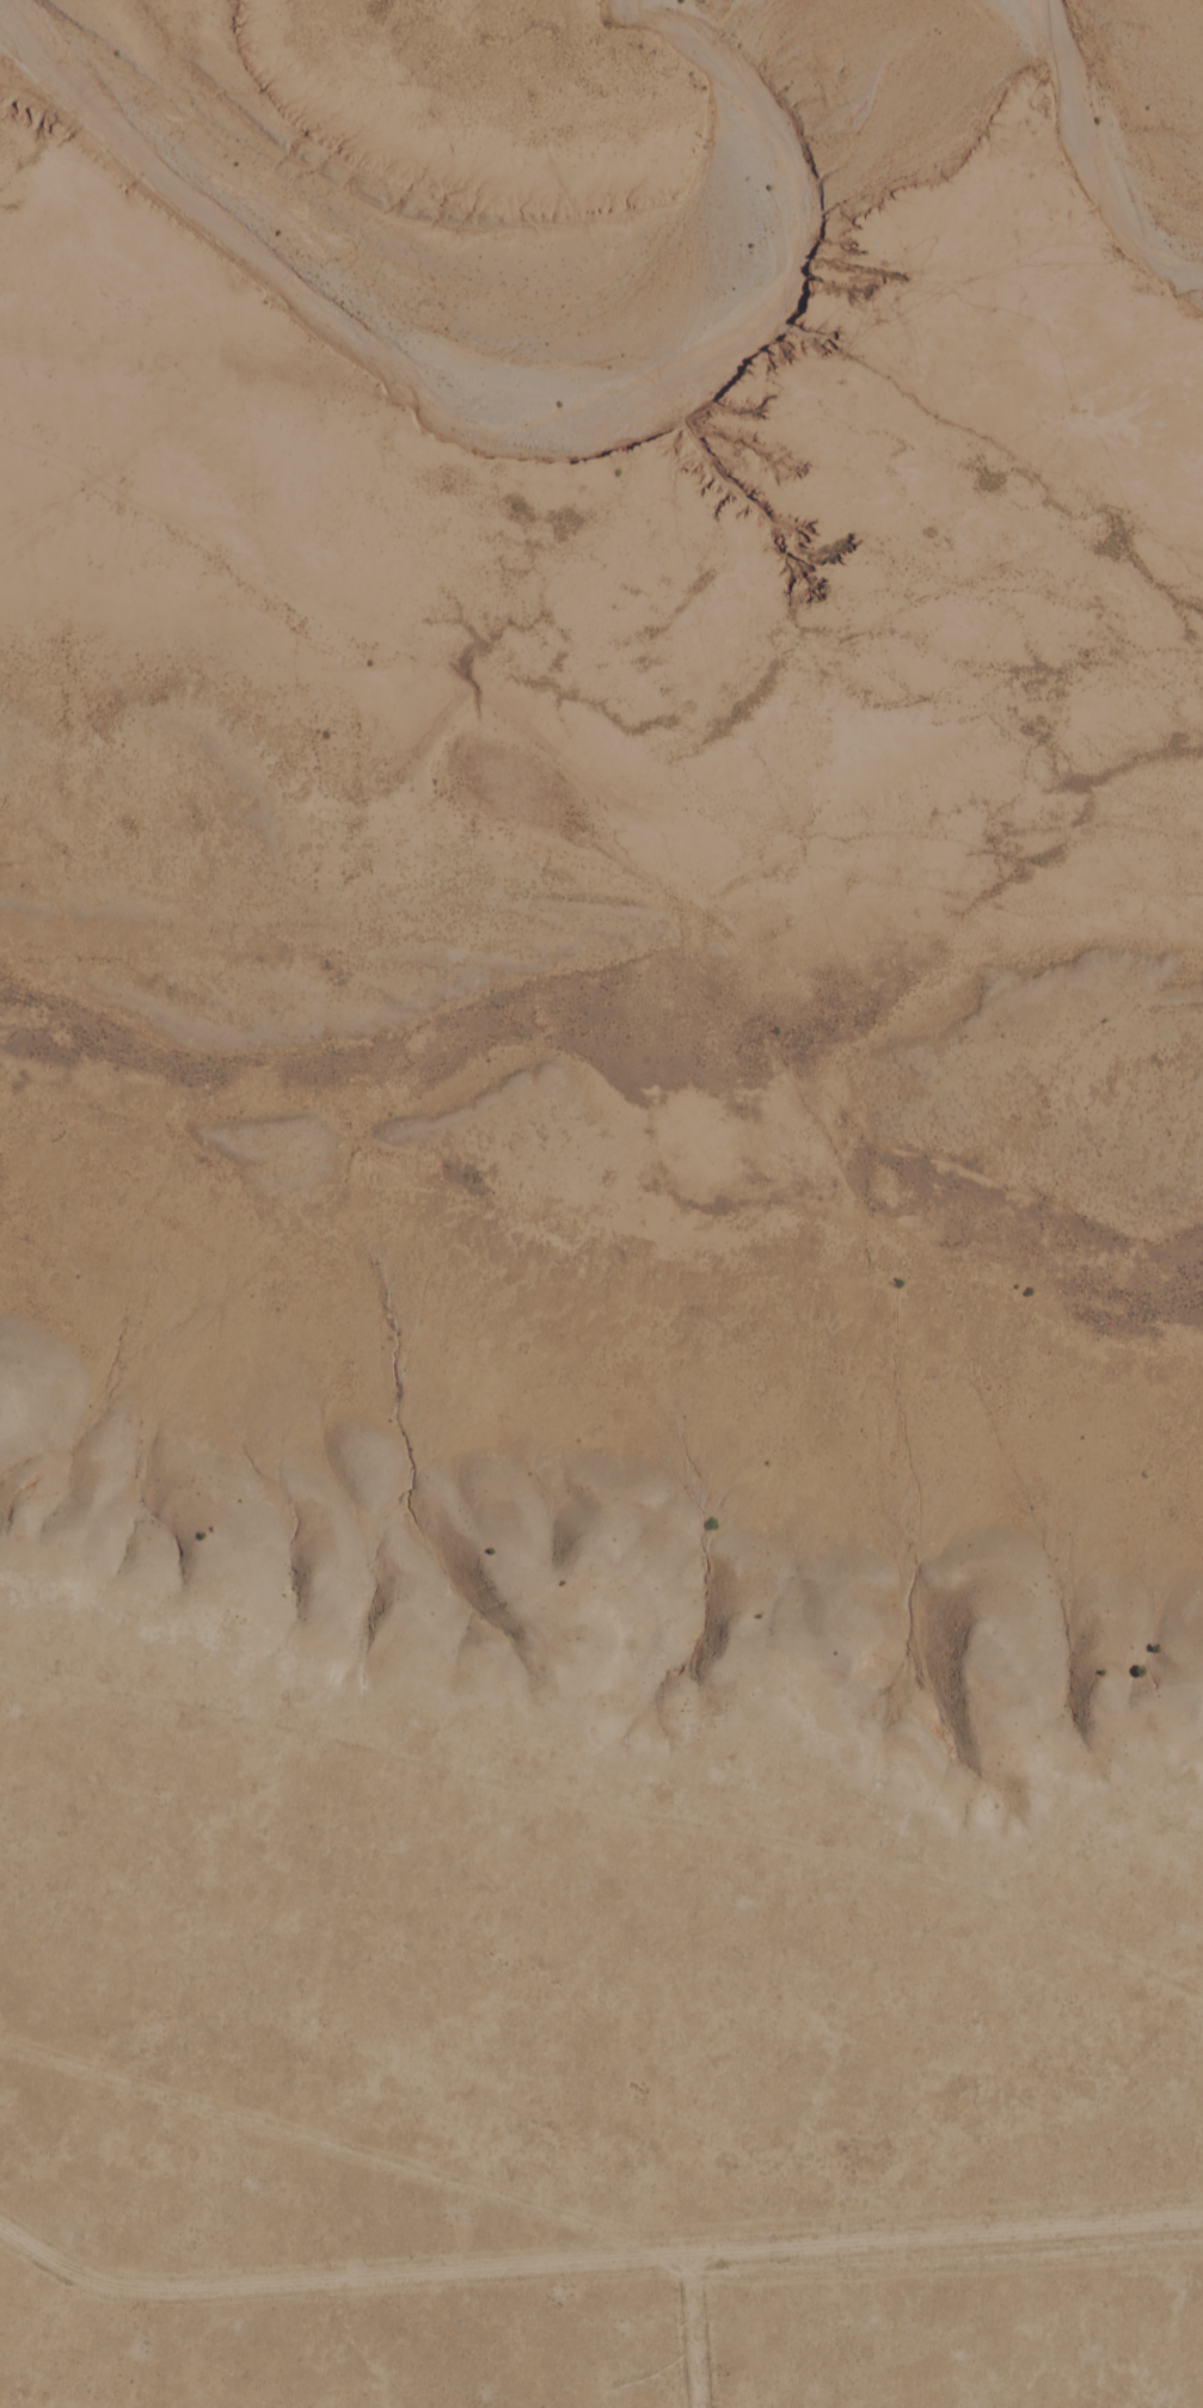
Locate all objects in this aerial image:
road: (590, 1335)

